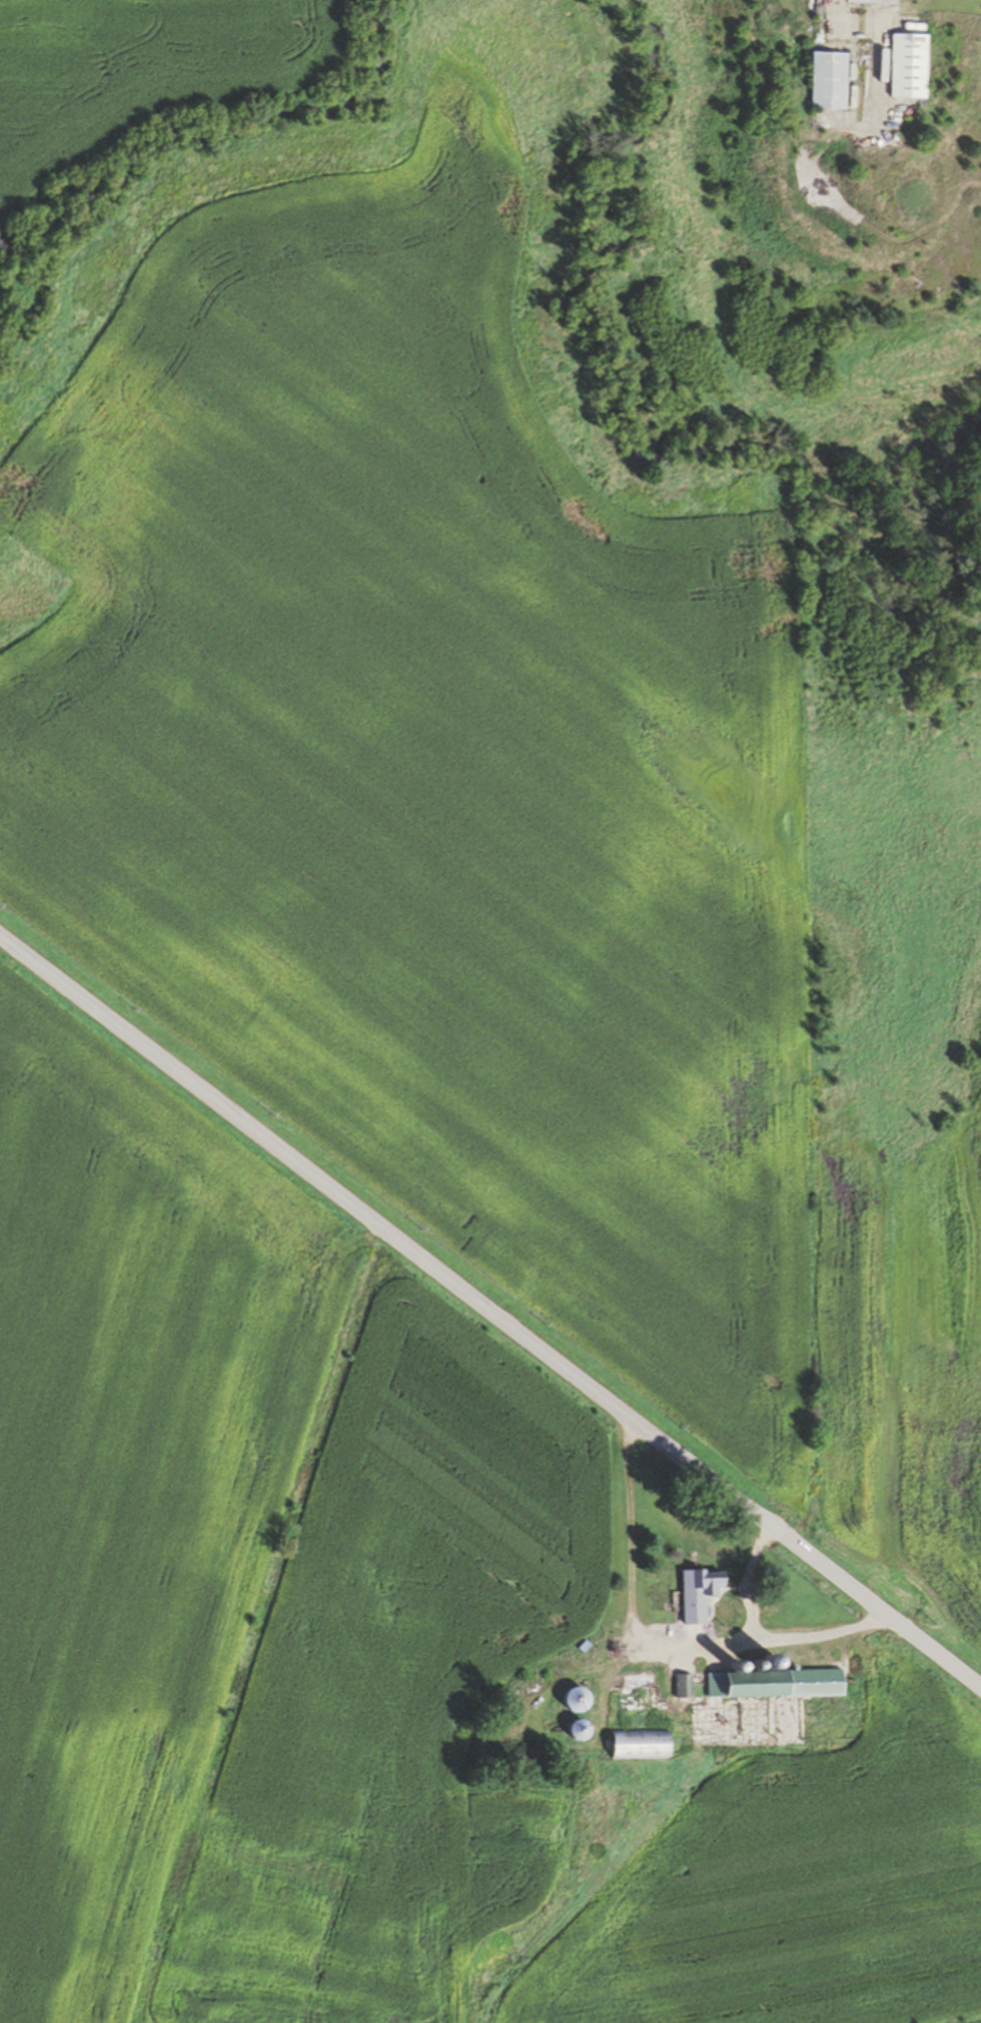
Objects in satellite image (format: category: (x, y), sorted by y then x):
building: (875, 1)
building: (912, 65)
building: (831, 81)
road: (491, 1308)
road: (749, 1578)
building: (700, 1594)
road: (654, 1645)
building: (640, 1681)
building: (777, 1684)
building: (687, 1686)
building: (581, 1699)
building: (633, 1704)
building: (582, 1729)
building: (641, 1744)

